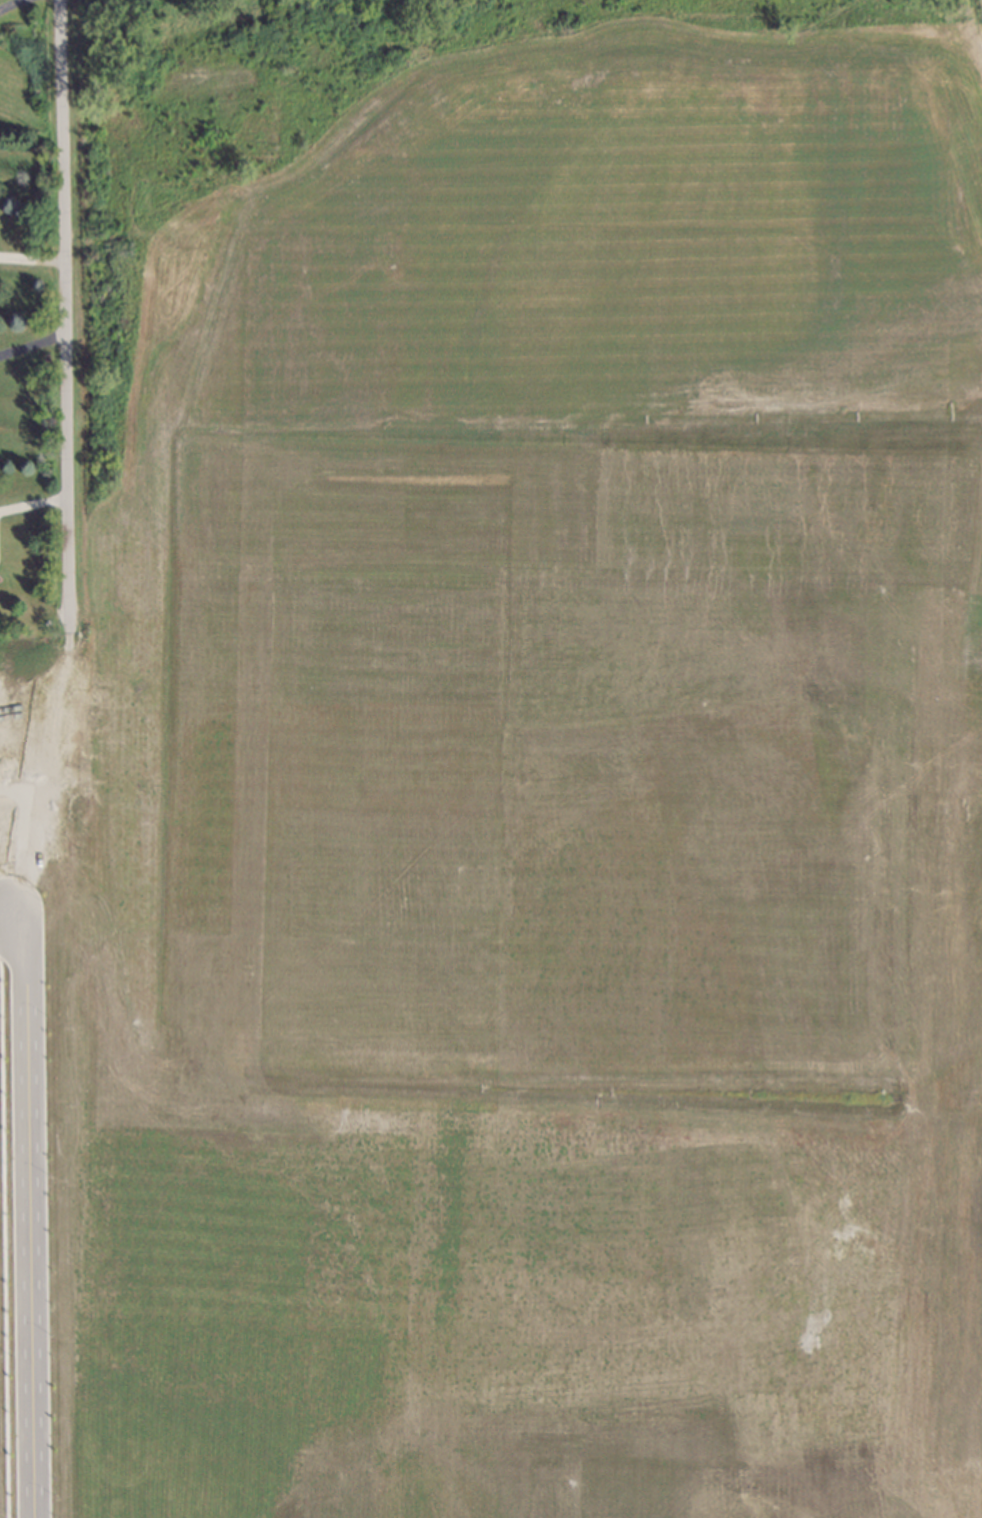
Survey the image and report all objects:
road: (6, 2)
road: (58, 312)
road: (29, 343)
building: (834, 687)
road: (24, 1223)
building: (871, 1385)

